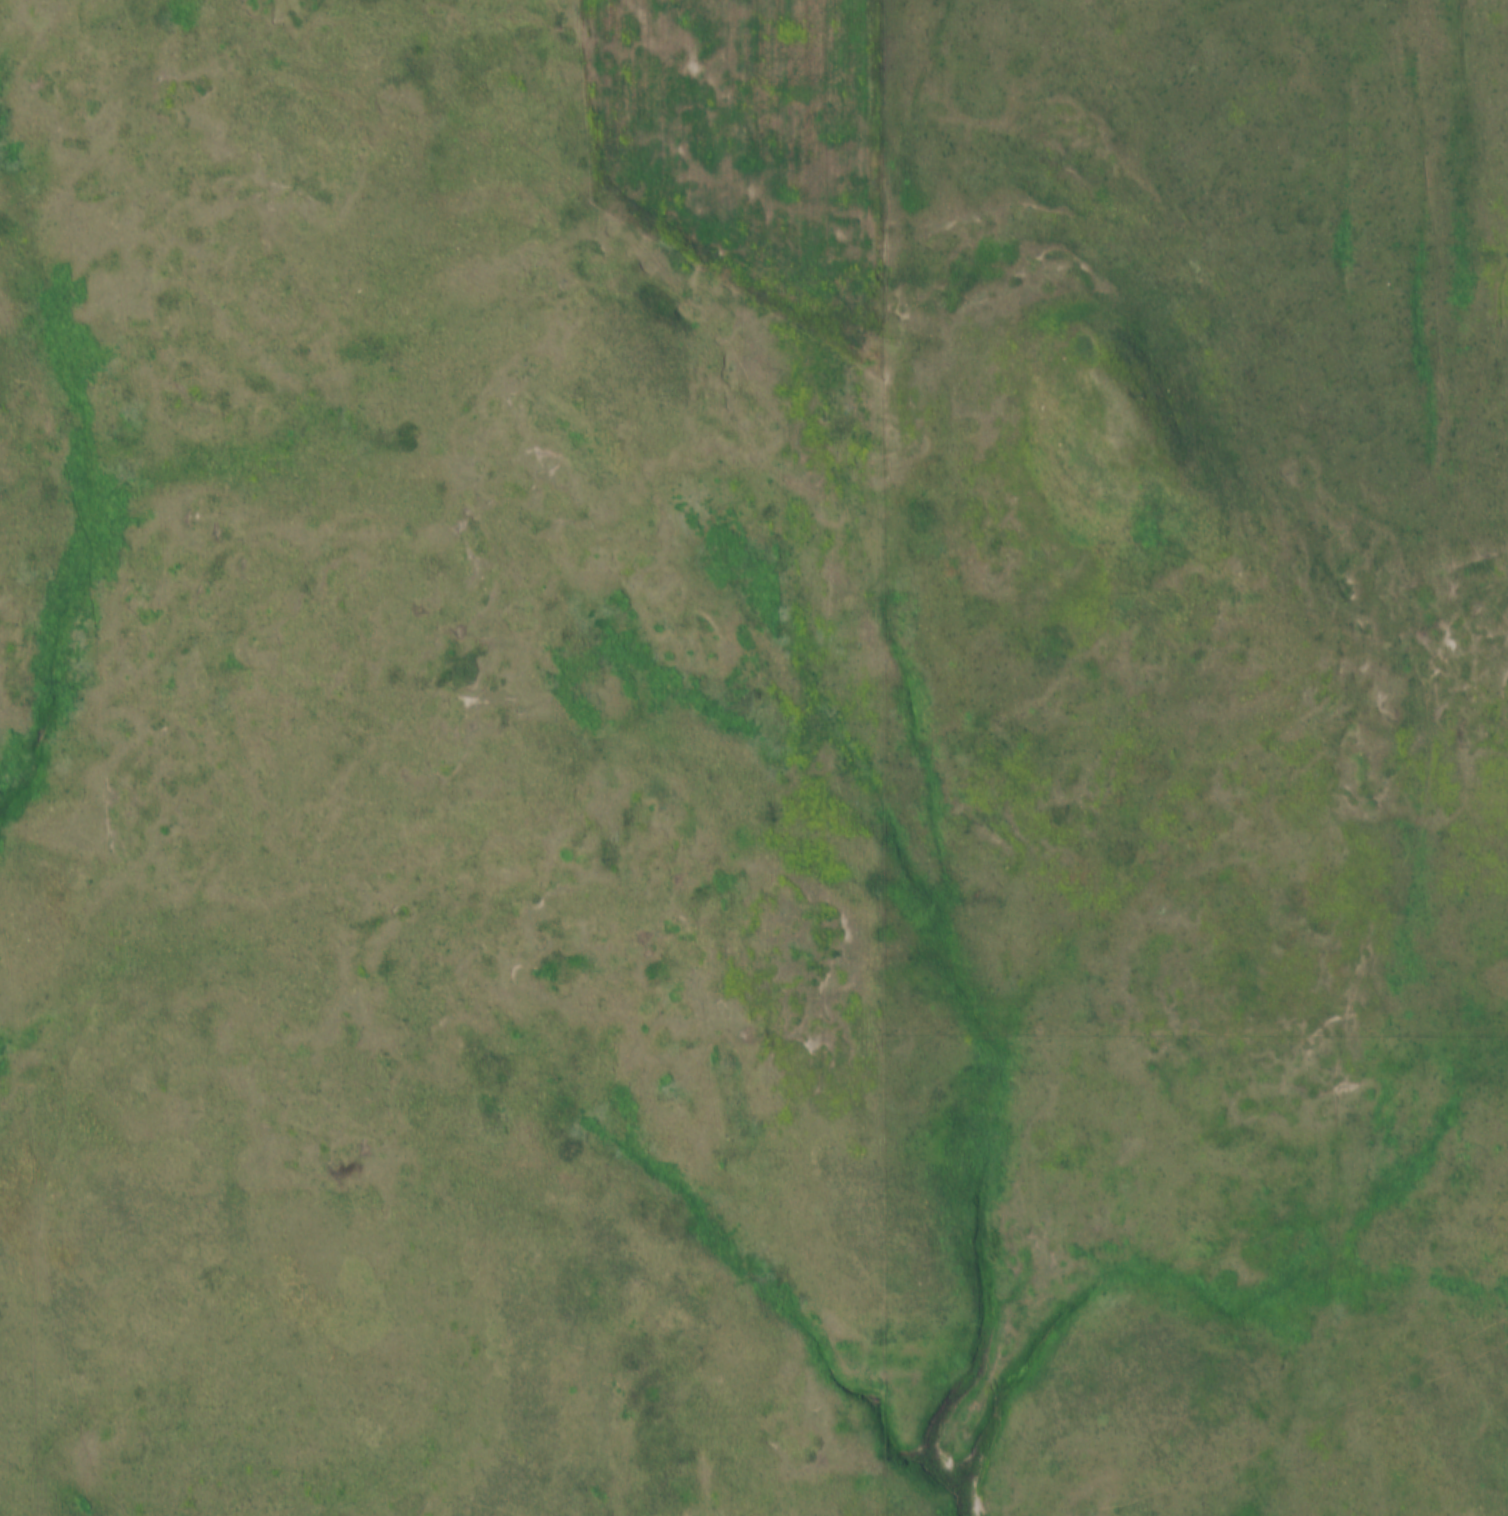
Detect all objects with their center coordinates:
road: (117, 228)
road: (887, 757)

